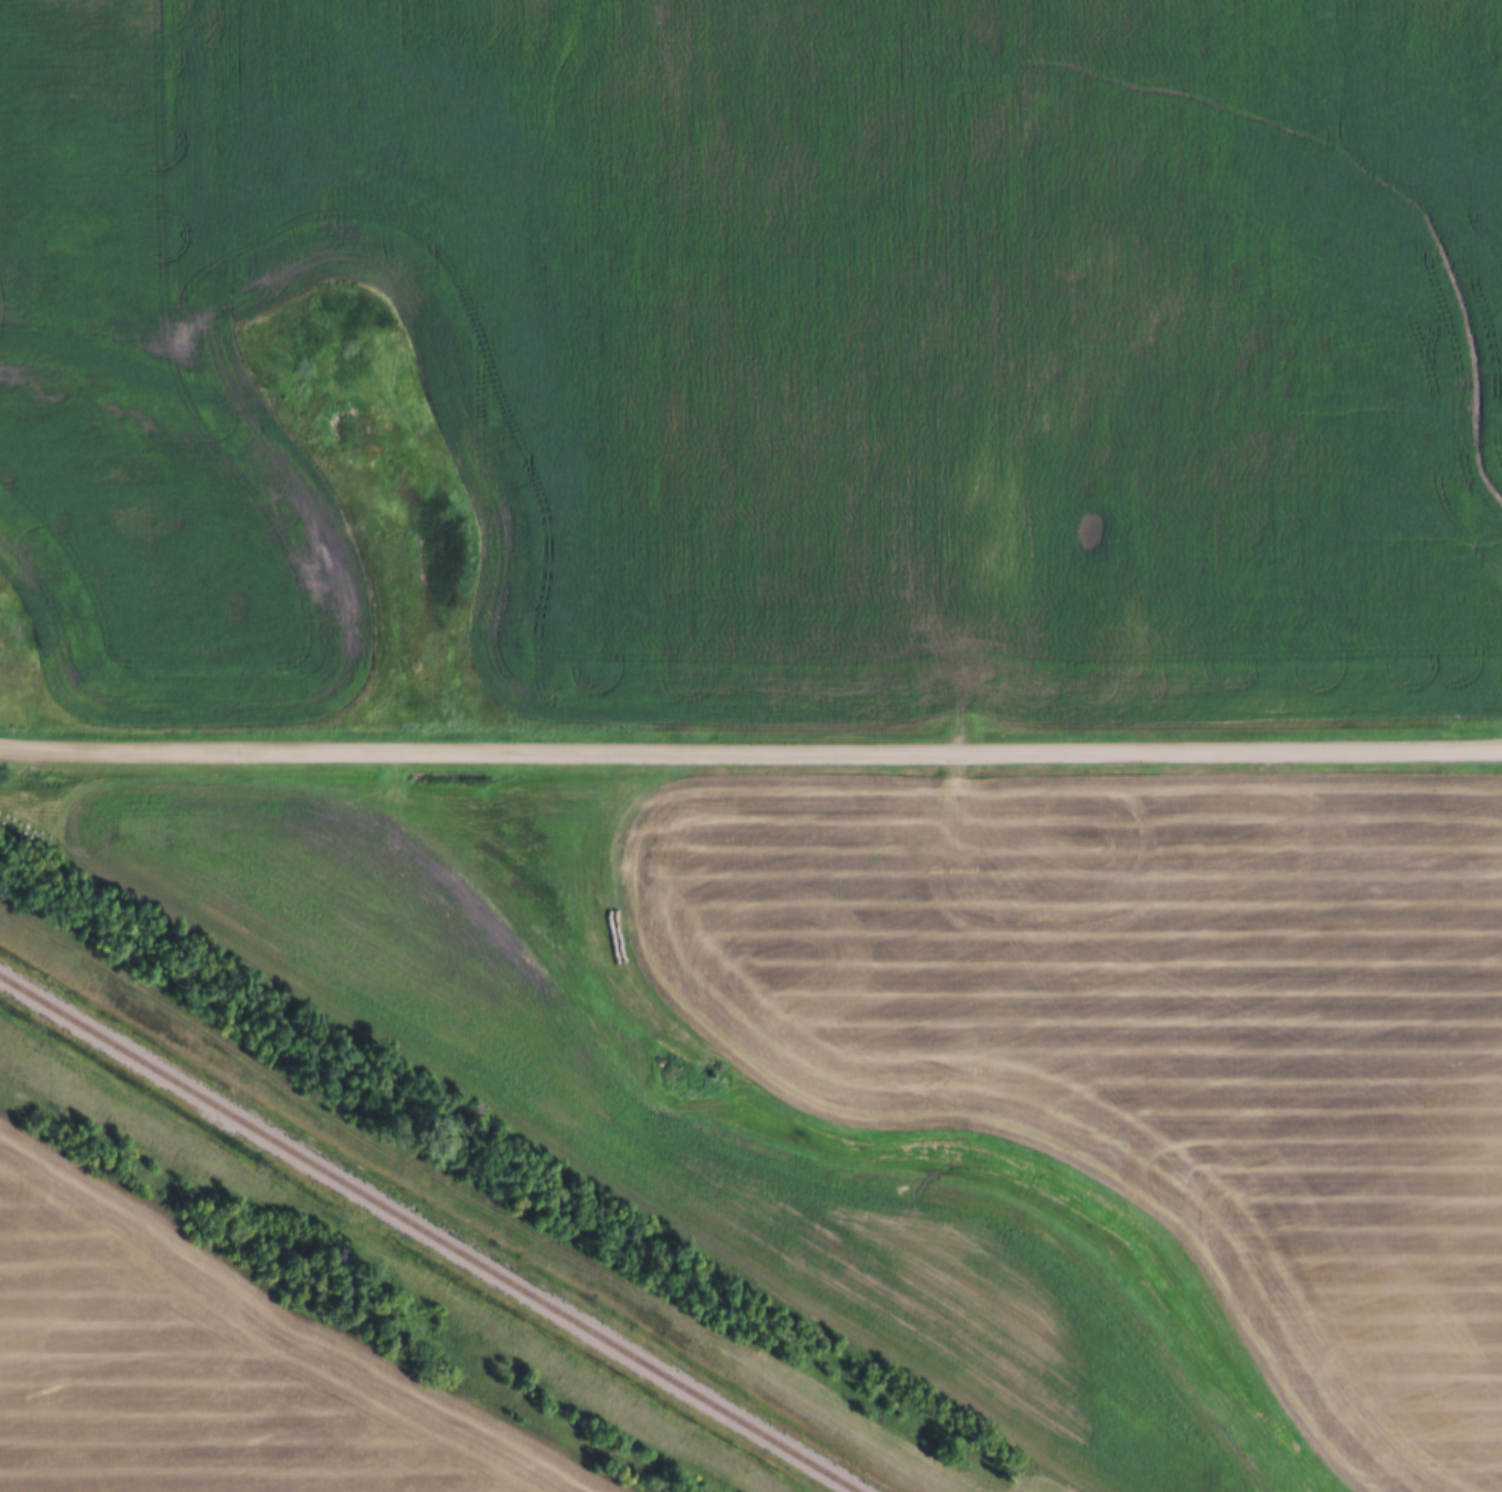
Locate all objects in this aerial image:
road: (750, 748)
railway: (429, 1233)

